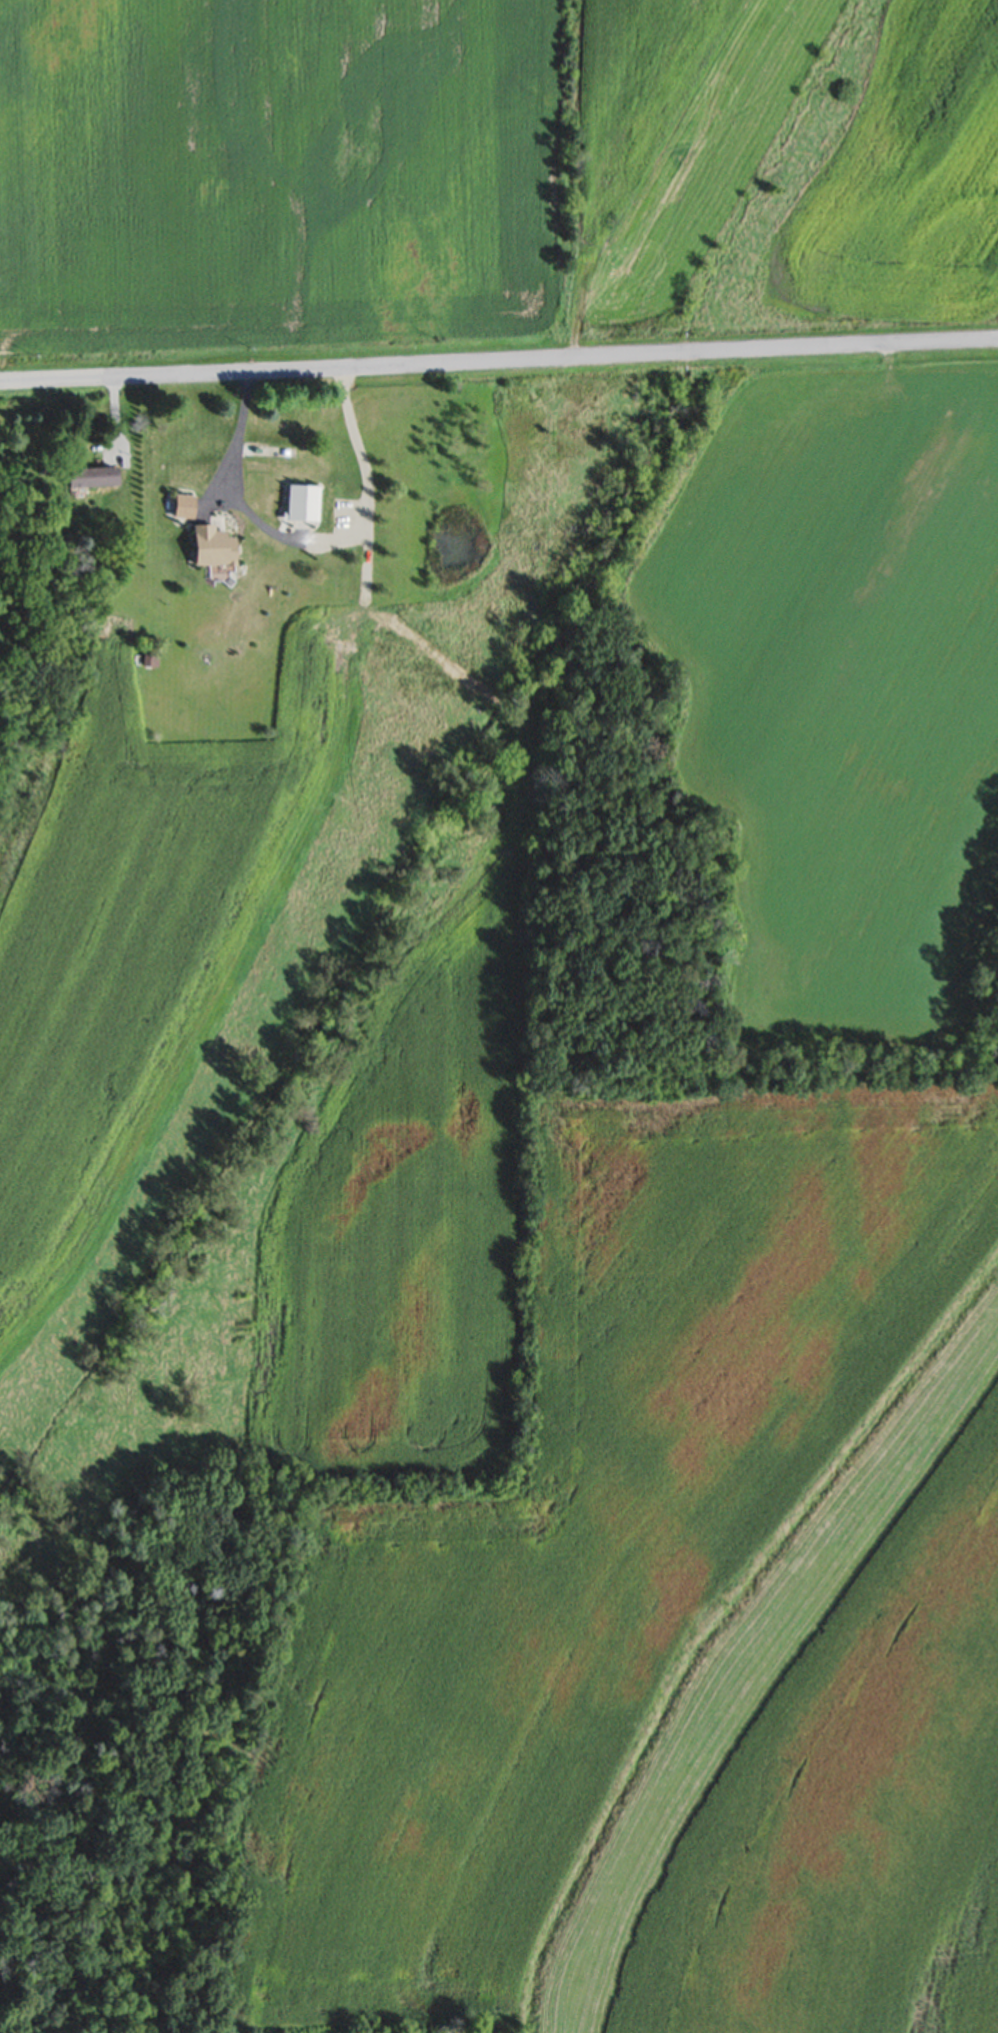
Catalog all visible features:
road: (499, 361)
building: (93, 474)
building: (299, 496)
building: (184, 503)
road: (313, 536)
building: (213, 544)

